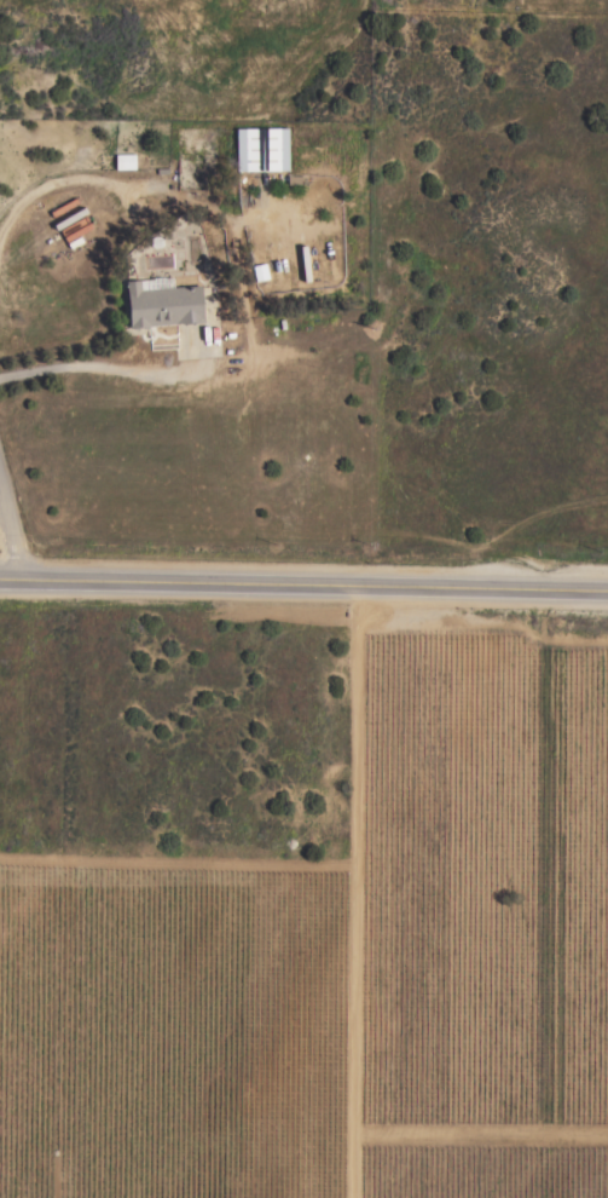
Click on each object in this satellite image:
building: (260, 149)
building: (123, 163)
road: (64, 180)
building: (73, 230)
building: (259, 271)
building: (161, 303)
road: (95, 369)
road: (10, 541)
road: (303, 586)
road: (353, 892)
road: (480, 1131)

